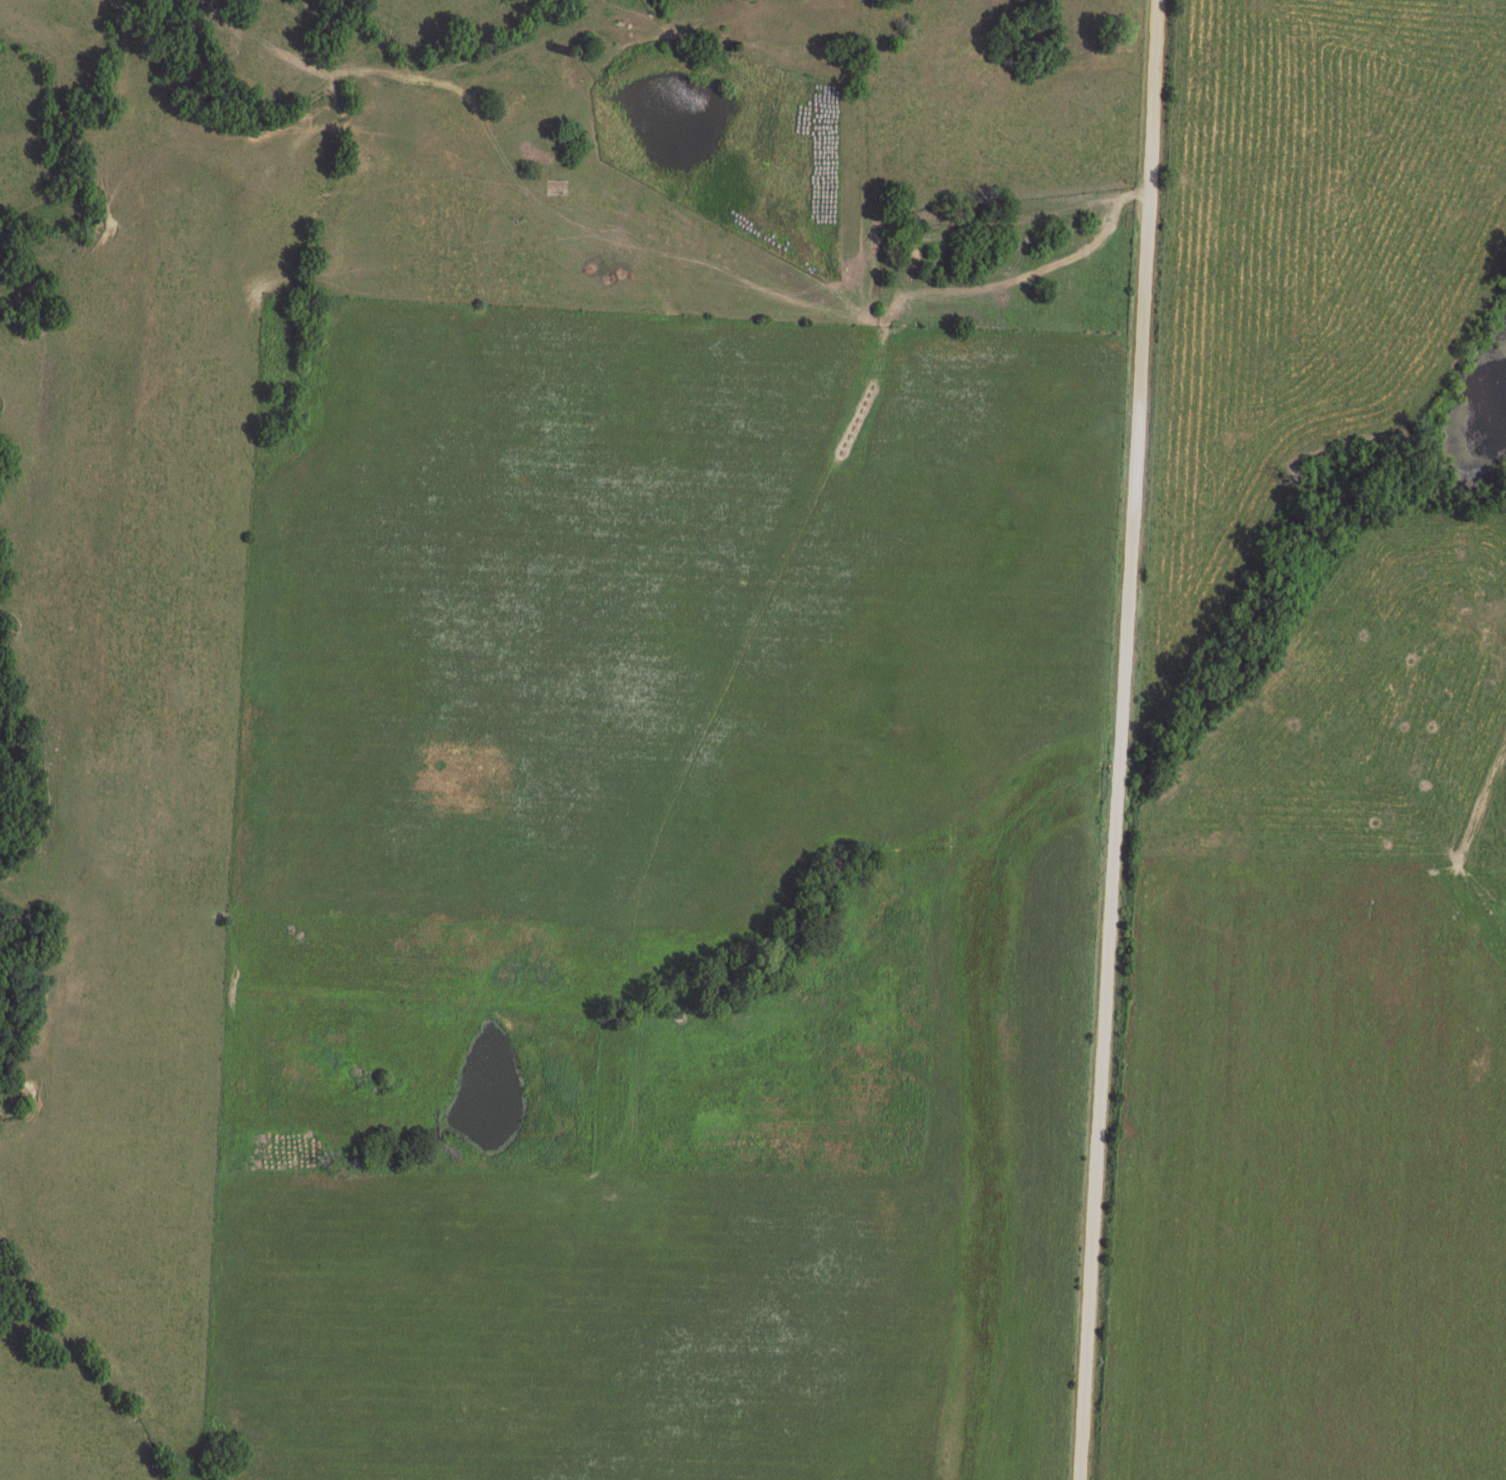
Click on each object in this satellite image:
road: (1136, 198)
road: (1032, 245)
road: (1118, 740)

